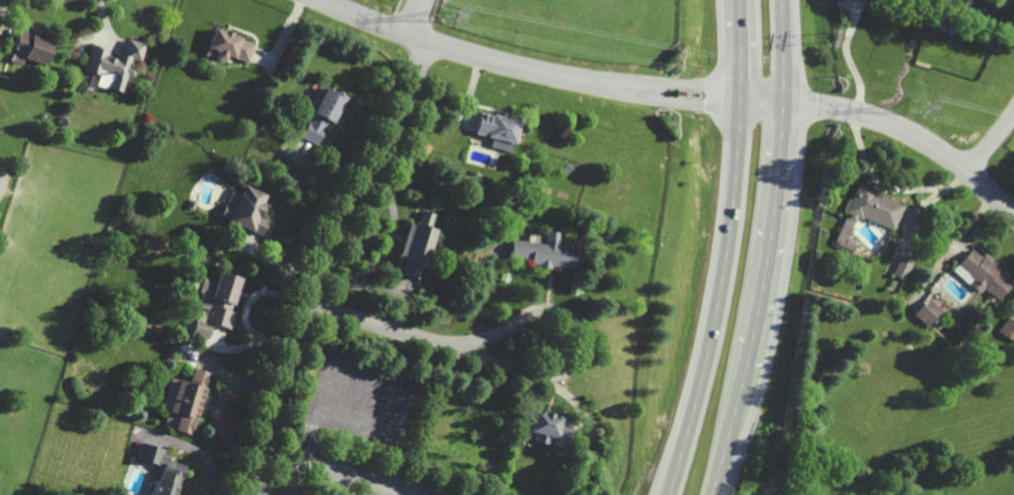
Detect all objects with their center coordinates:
road: (1, 8)
power tower: (446, 14)
road: (104, 17)
road: (412, 17)
power tower: (827, 39)
building: (227, 46)
building: (29, 48)
road: (465, 51)
road: (849, 63)
building: (112, 64)
road: (686, 84)
road: (683, 103)
power tower: (916, 108)
building: (319, 112)
road: (889, 128)
building: (496, 130)
road: (990, 145)
building: (244, 209)
building: (867, 212)
road: (388, 243)
building: (416, 245)
road: (726, 250)
road: (767, 250)
building: (546, 252)
road: (321, 263)
building: (901, 267)
building: (981, 274)
building: (218, 299)
building: (926, 311)
road: (366, 324)
building: (200, 329)
building: (1007, 329)
road: (439, 347)
building: (189, 400)
road: (218, 410)
building: (545, 427)
road: (191, 449)
building: (162, 469)
road: (355, 471)
road: (221, 480)
road: (255, 493)

